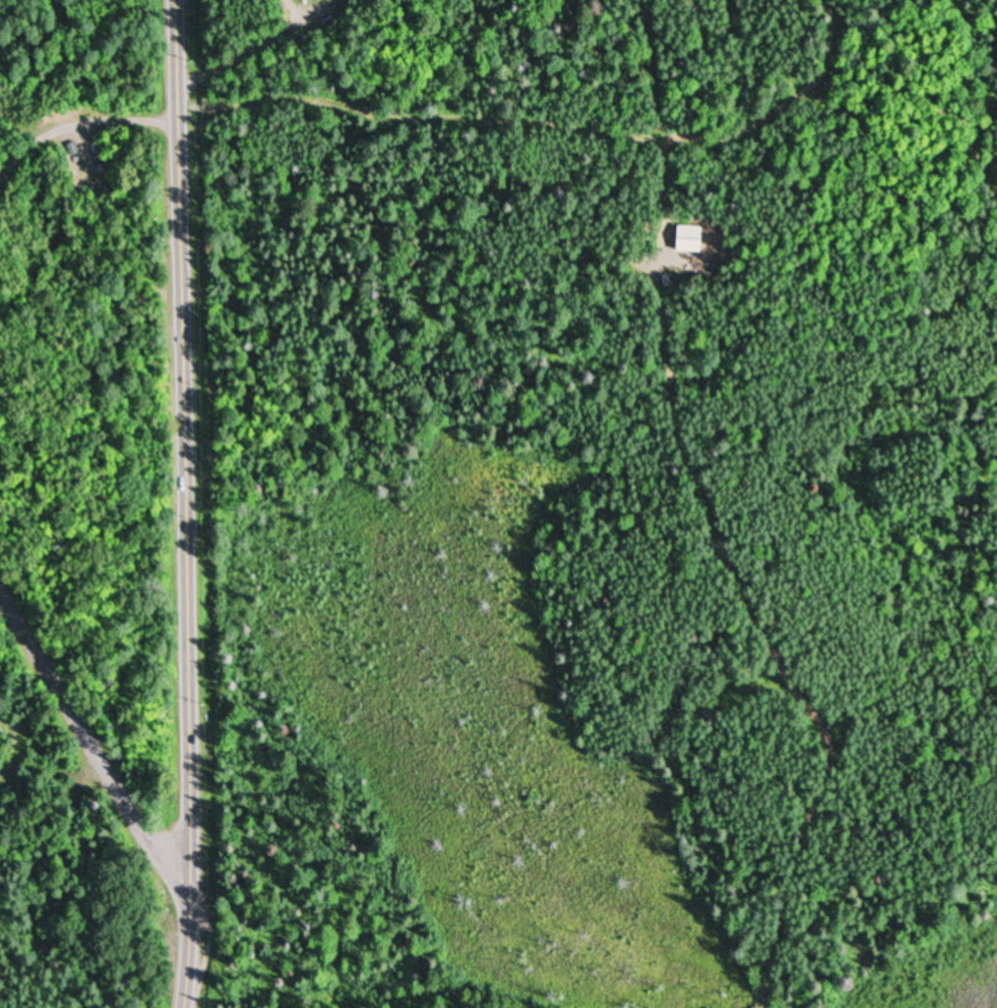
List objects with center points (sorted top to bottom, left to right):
road: (182, 504)
road: (92, 766)

